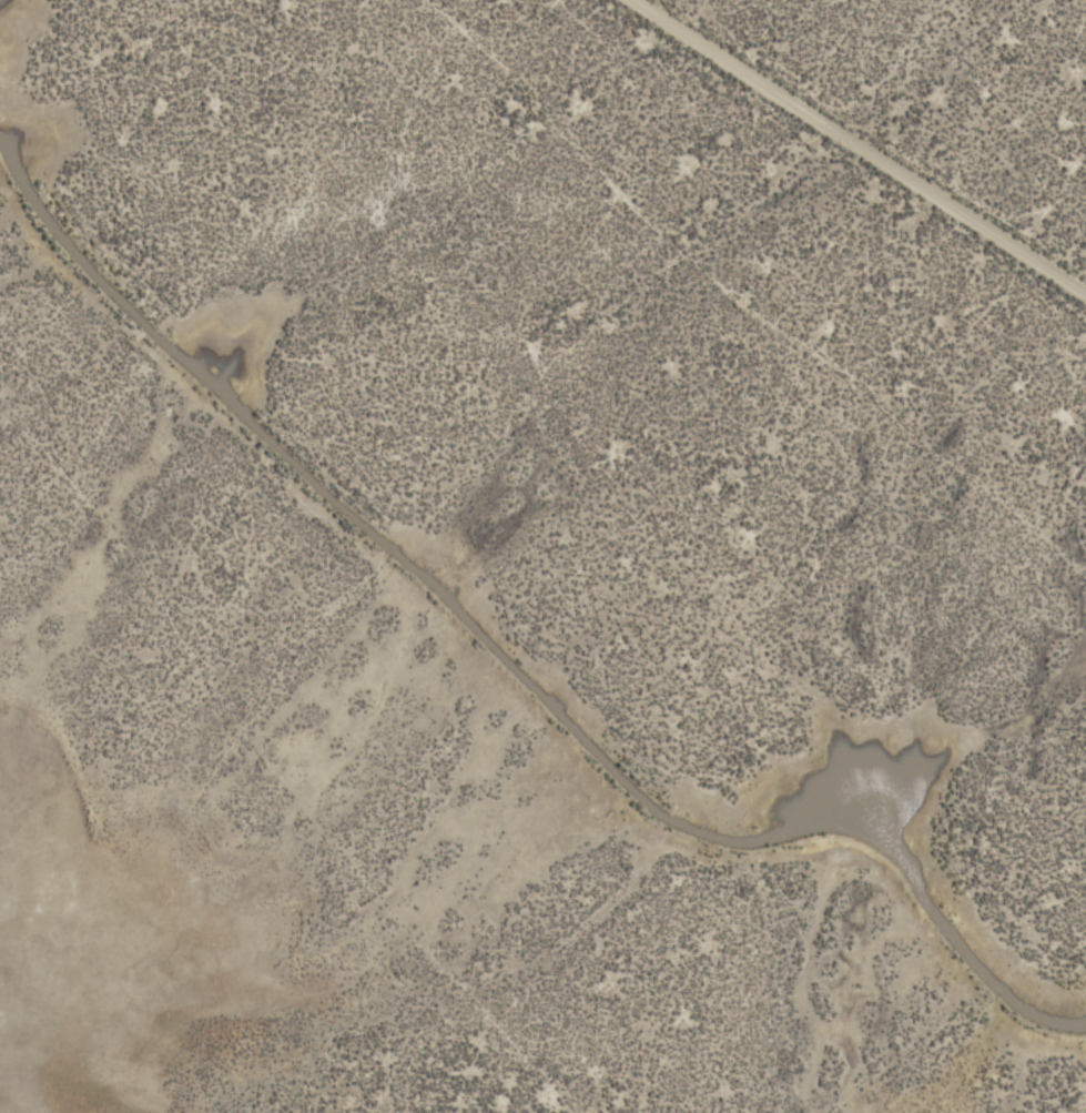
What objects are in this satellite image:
road: (857, 148)

